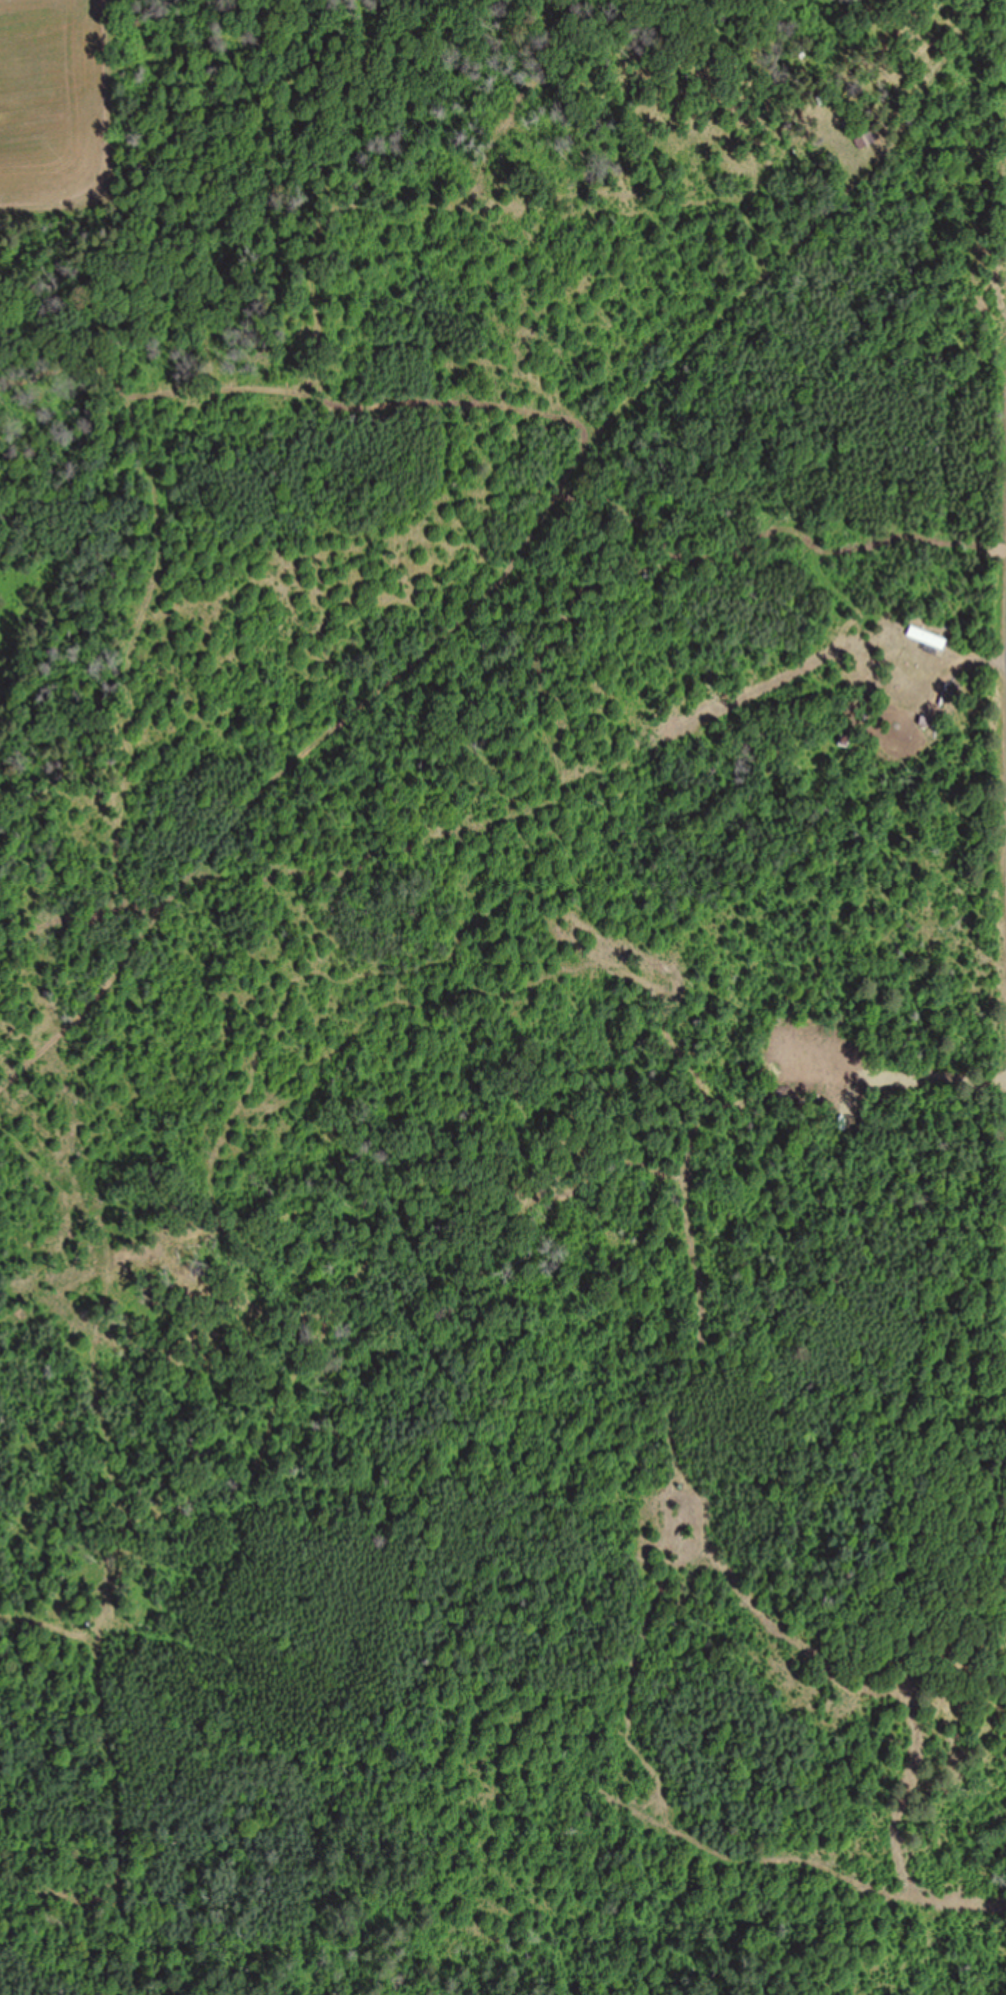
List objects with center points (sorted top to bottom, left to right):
road: (437, 409)
building: (928, 638)

